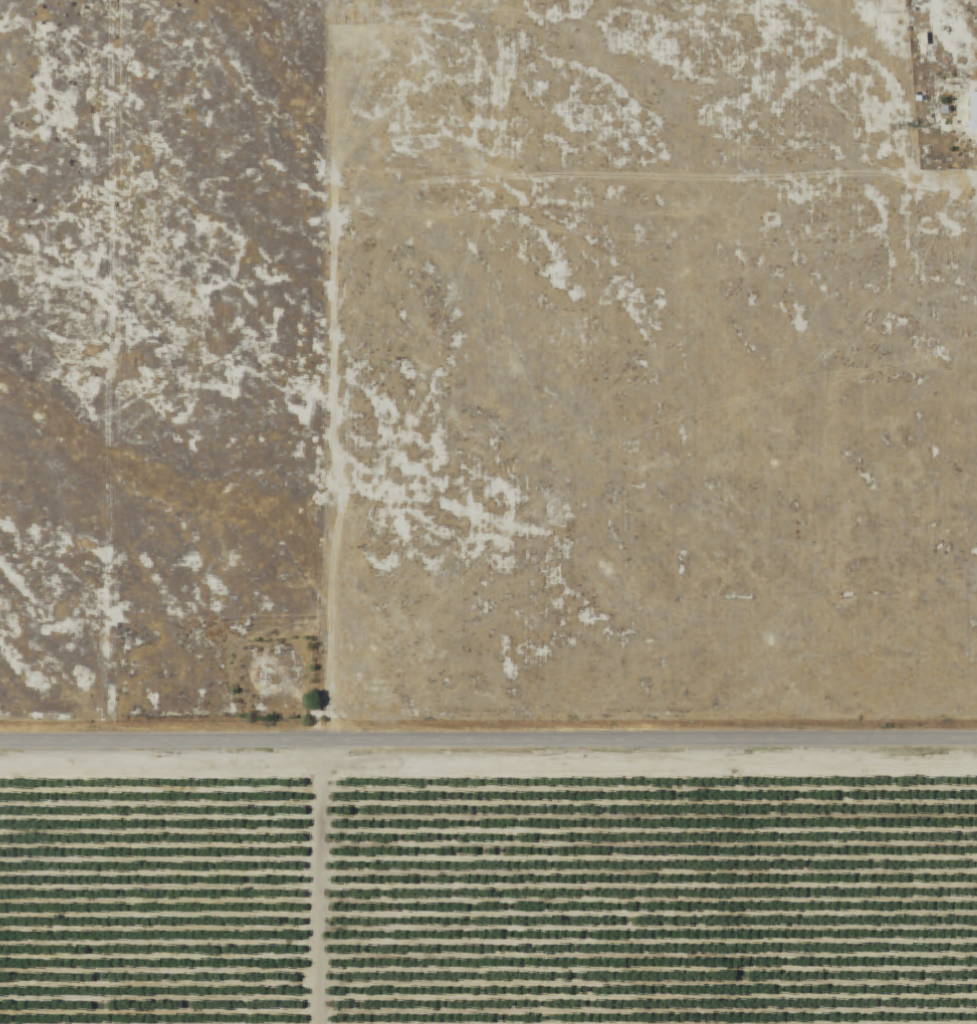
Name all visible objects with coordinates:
building: (974, 113)
road: (488, 740)
road: (317, 882)

